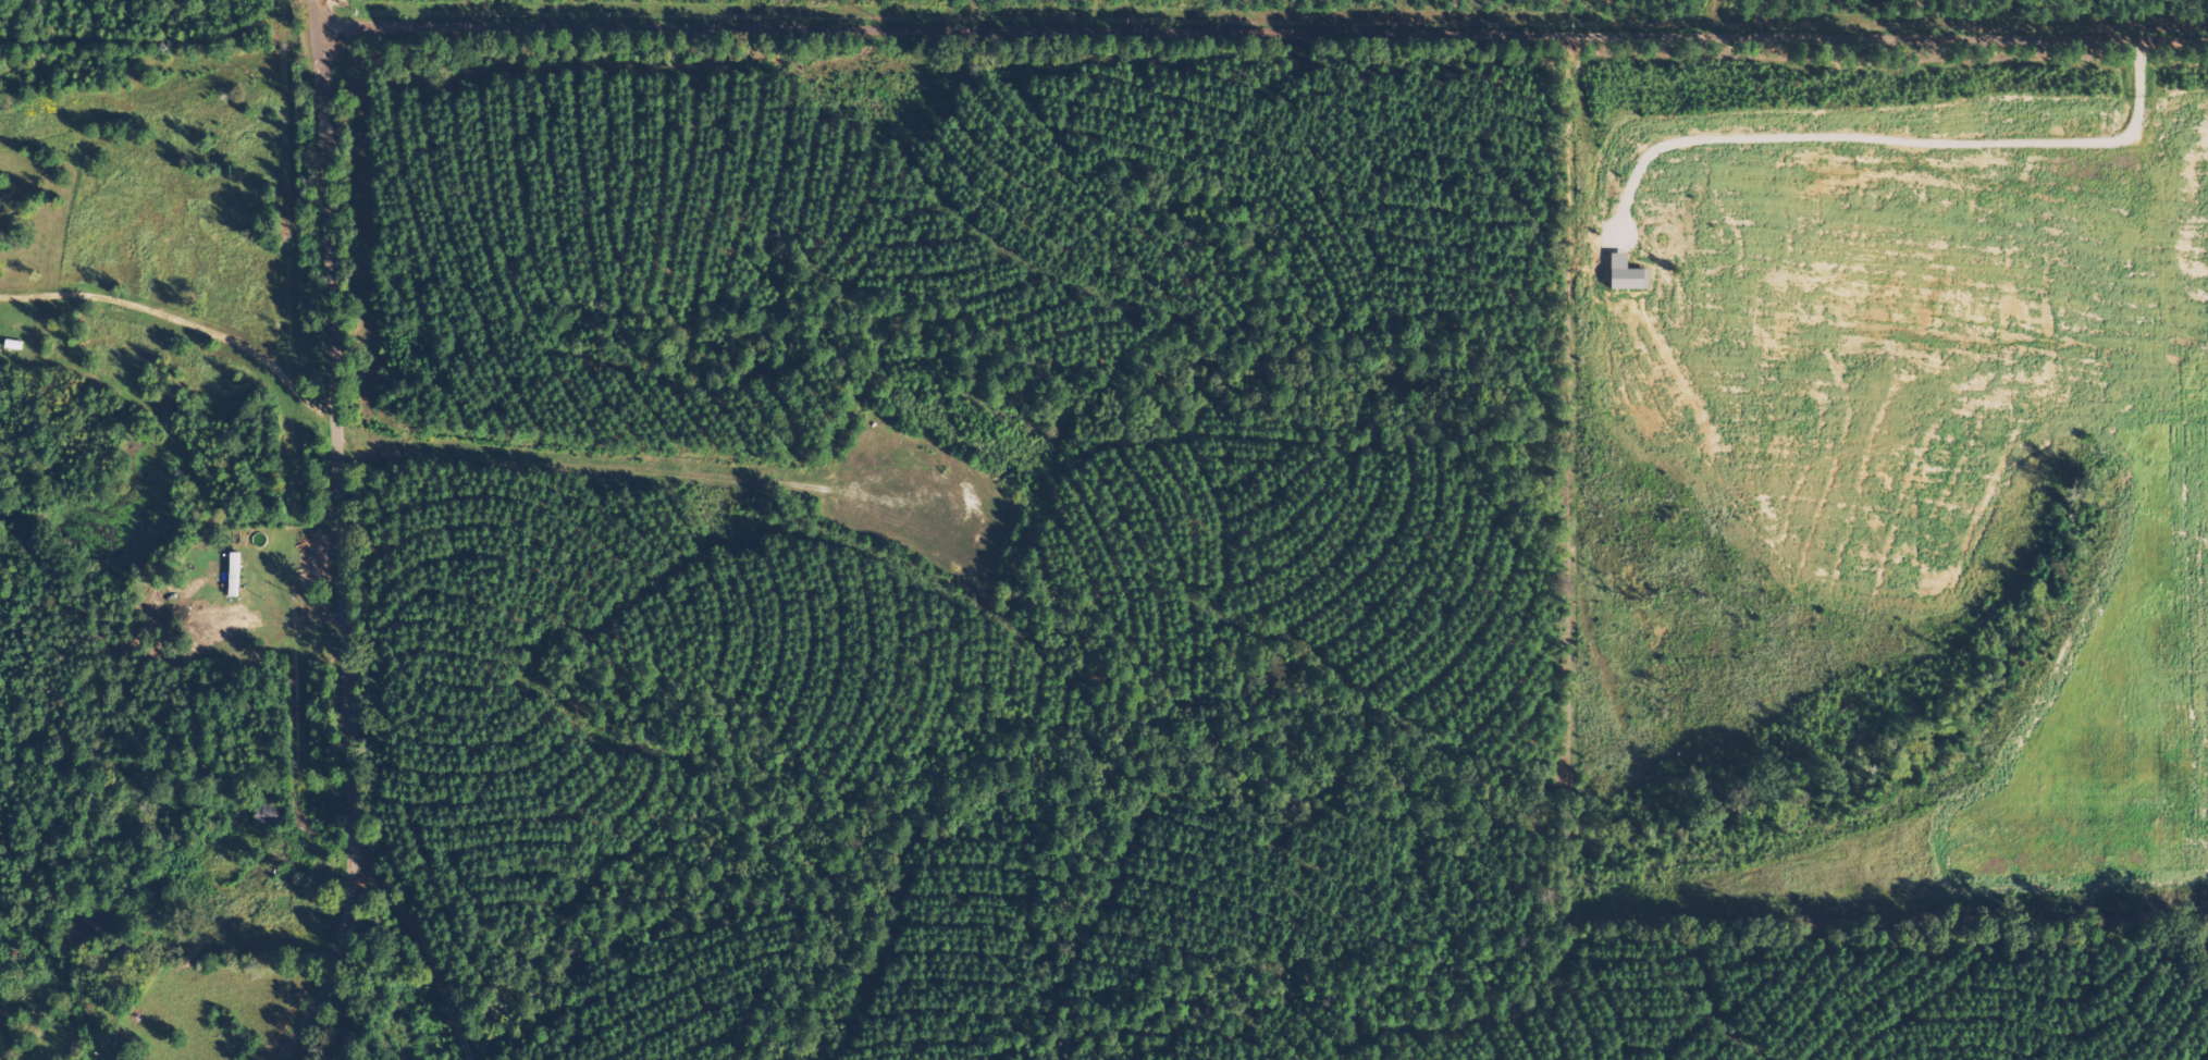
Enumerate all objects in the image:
road: (1256, 50)
road: (313, 540)

